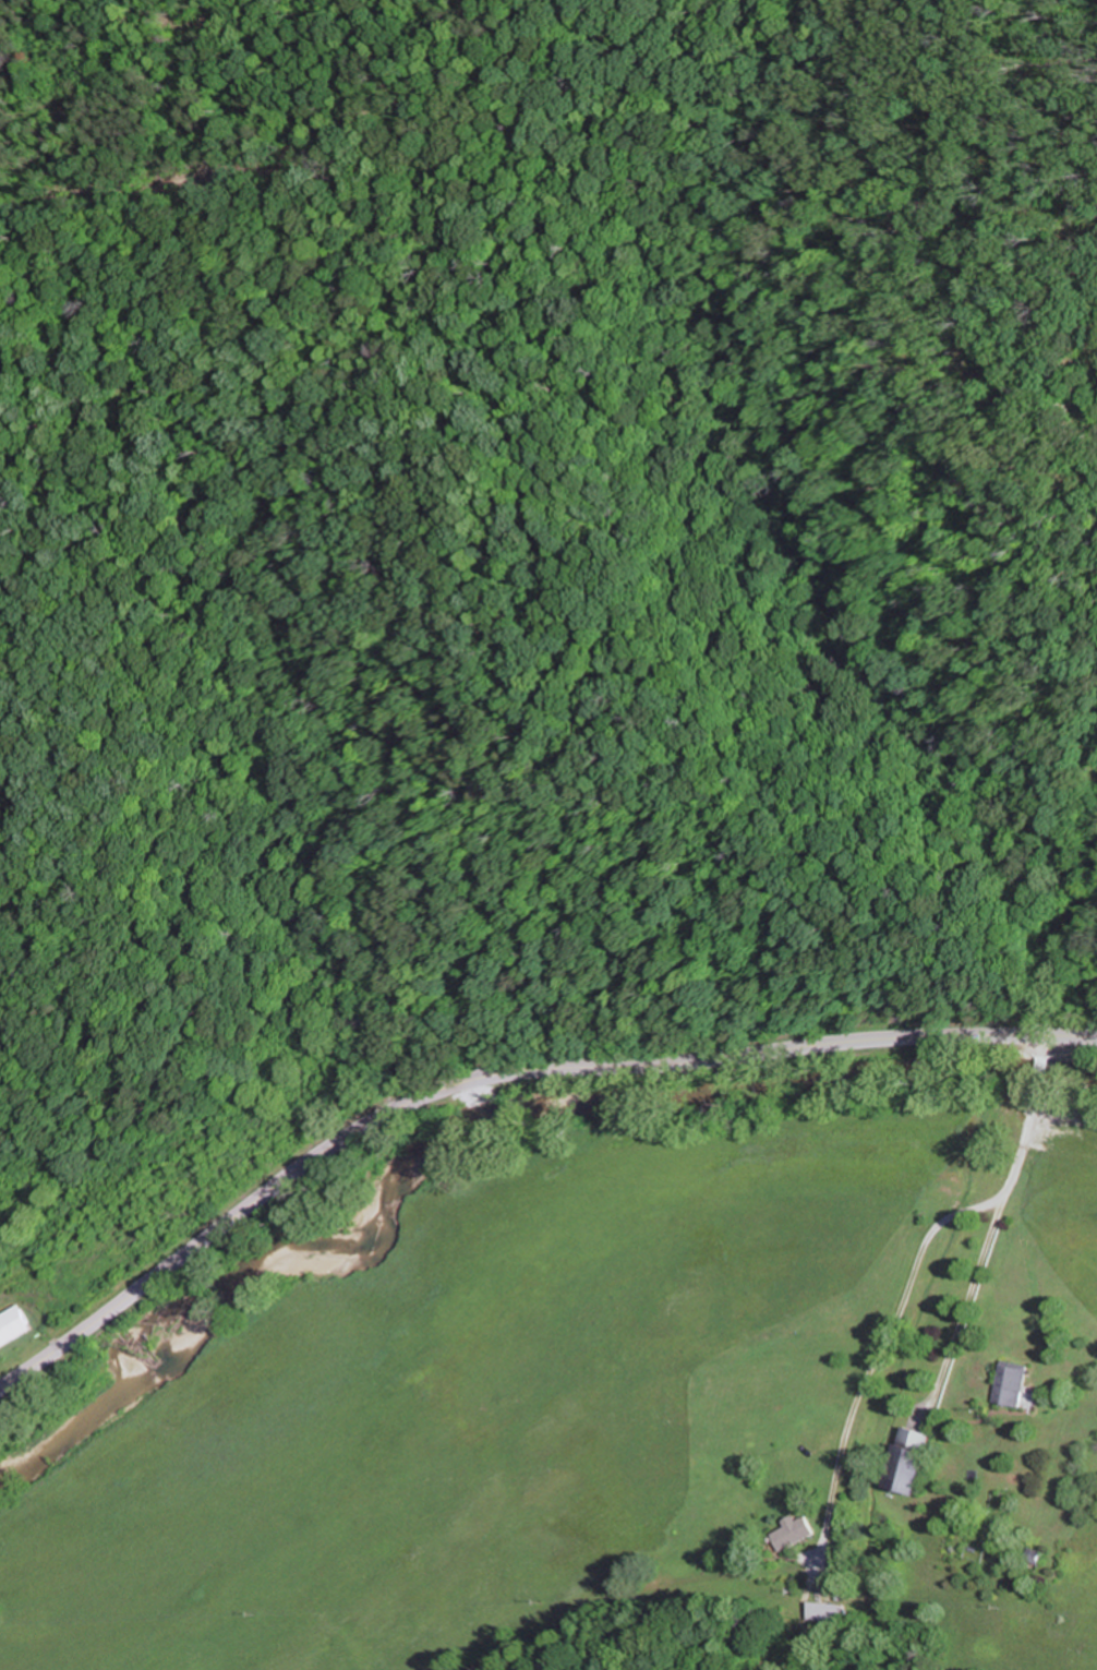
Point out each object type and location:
road: (1044, 1046)
road: (1041, 1065)
road: (503, 1079)
road: (1010, 1178)
building: (16, 1325)
building: (1012, 1382)
building: (913, 1459)
building: (796, 1531)
building: (825, 1611)

